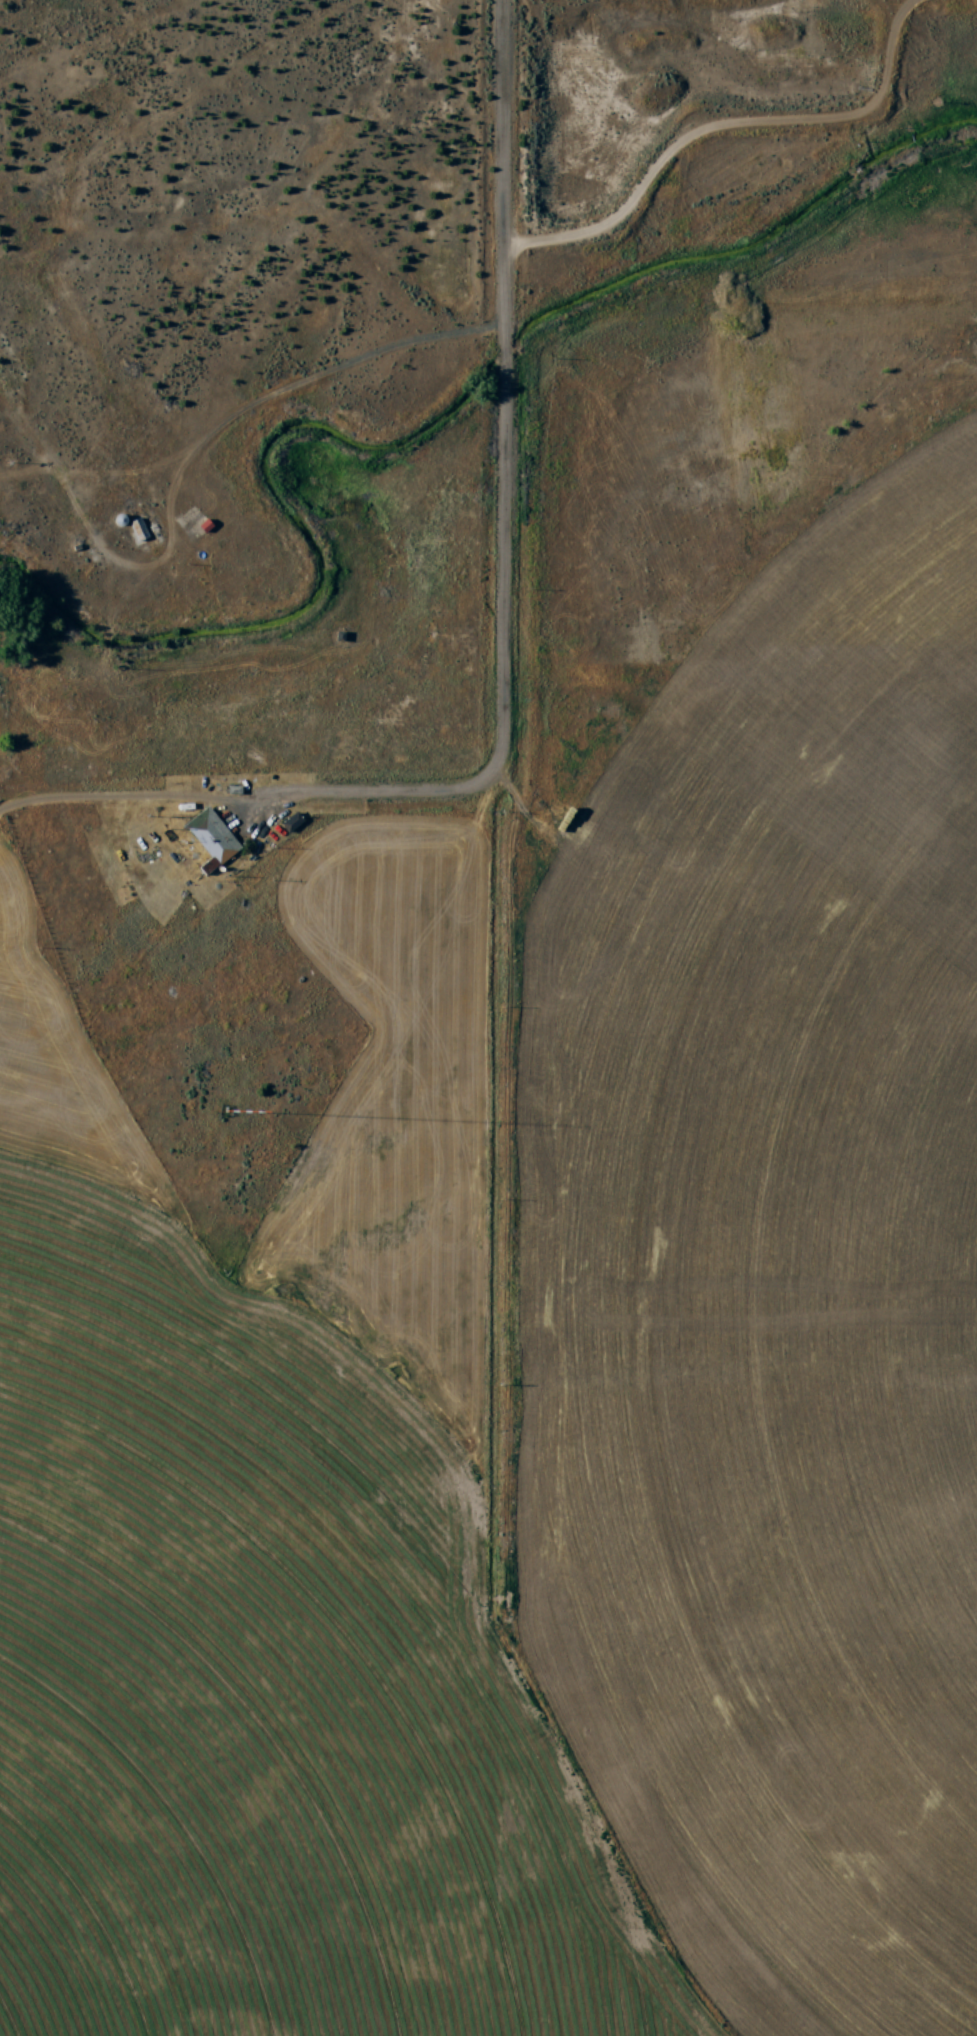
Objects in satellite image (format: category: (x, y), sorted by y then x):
road: (105, 152)
road: (505, 545)
building: (211, 840)

